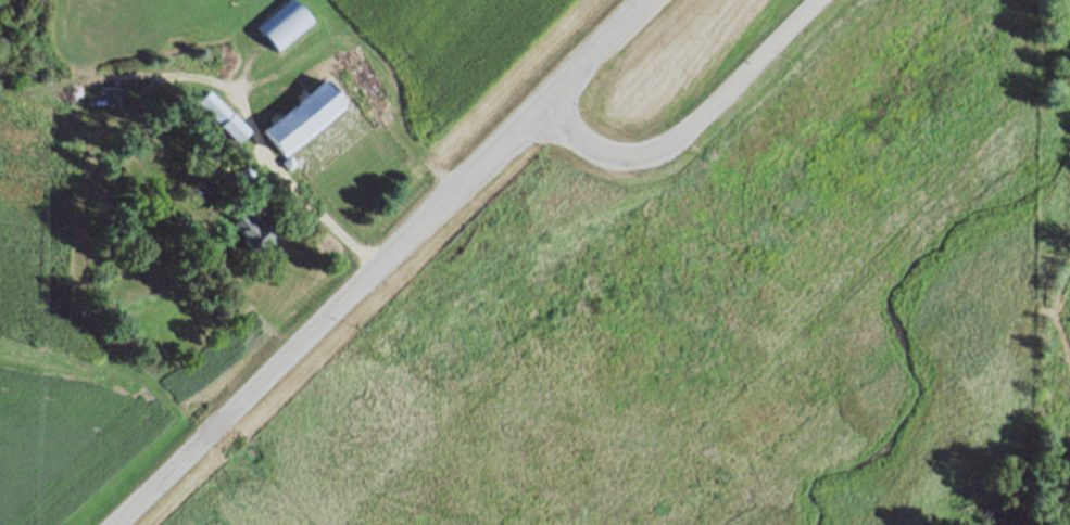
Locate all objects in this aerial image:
building: (281, 25)
building: (221, 117)
building: (301, 118)
road: (691, 126)
building: (287, 163)
road: (290, 187)
building: (253, 232)
road: (379, 262)

